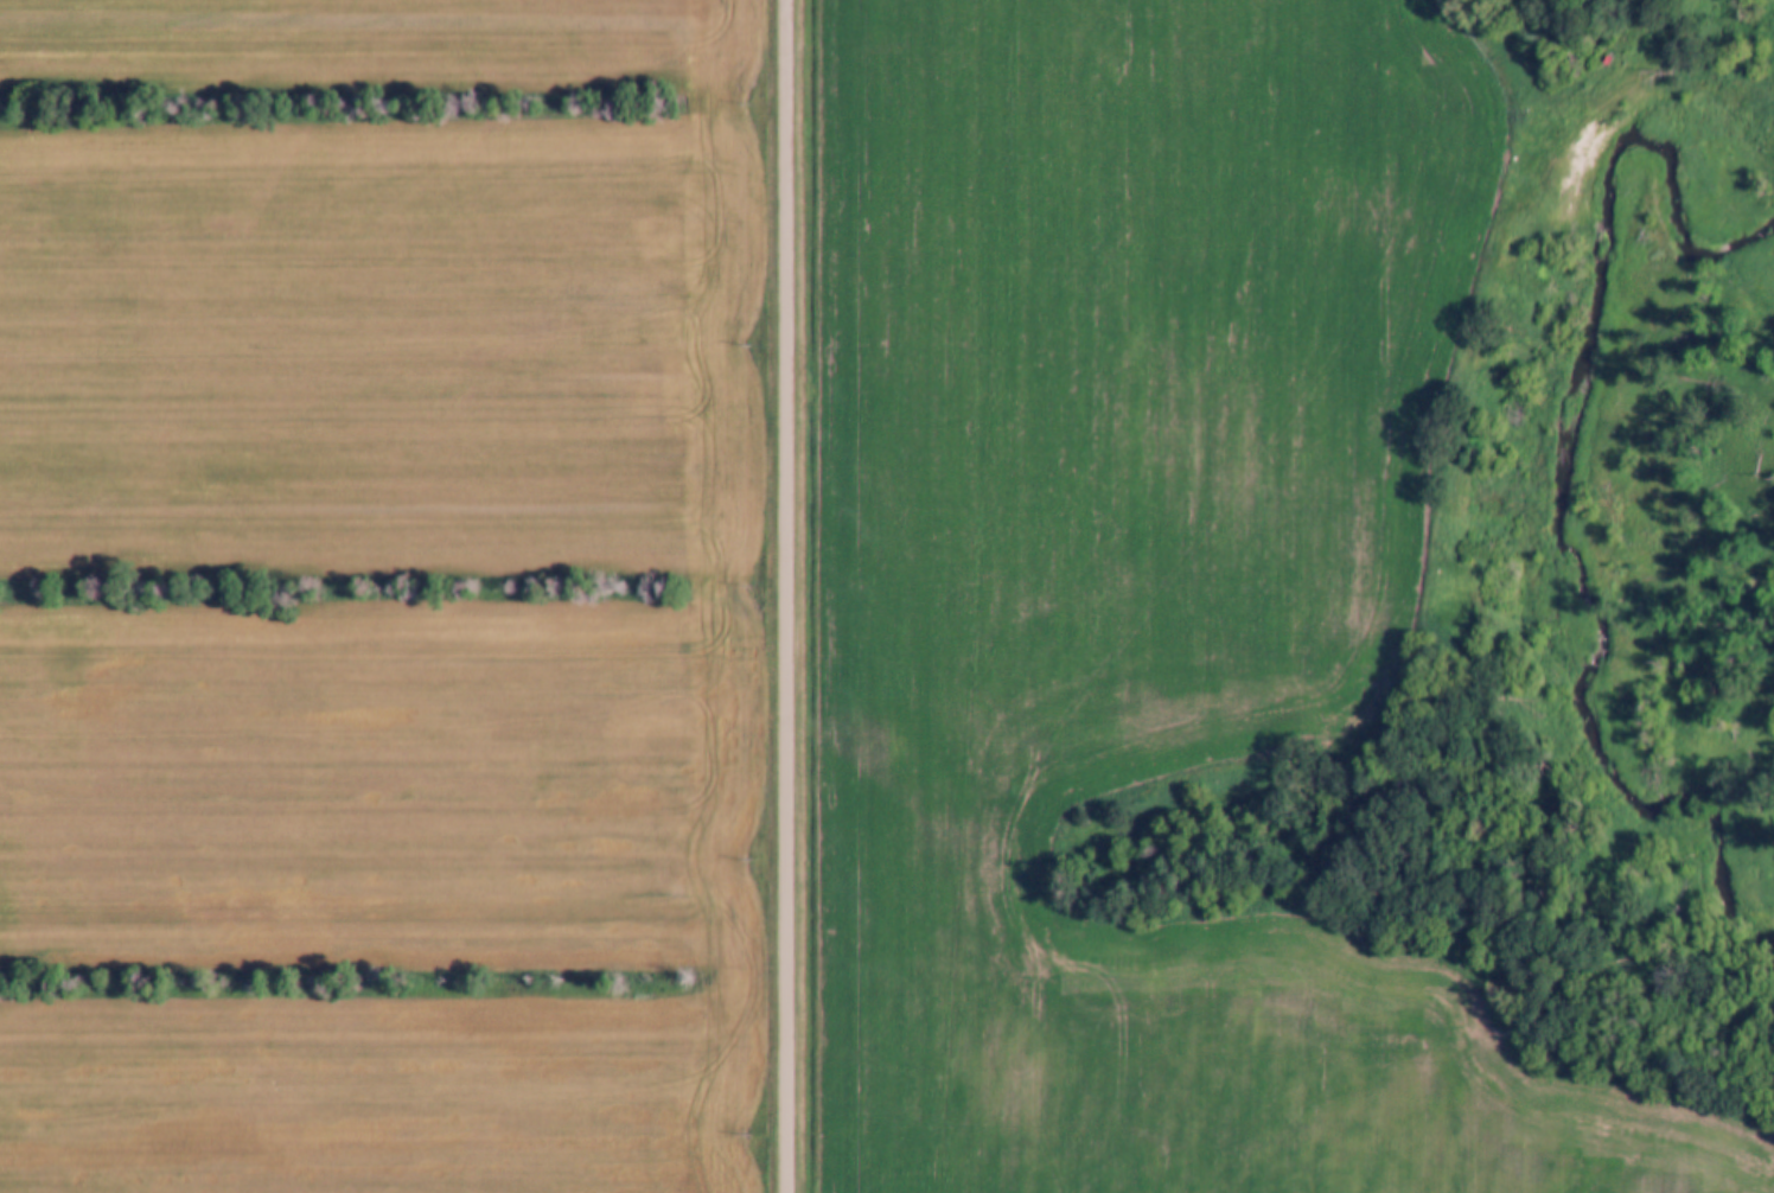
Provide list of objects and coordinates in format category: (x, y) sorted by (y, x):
road: (786, 595)

